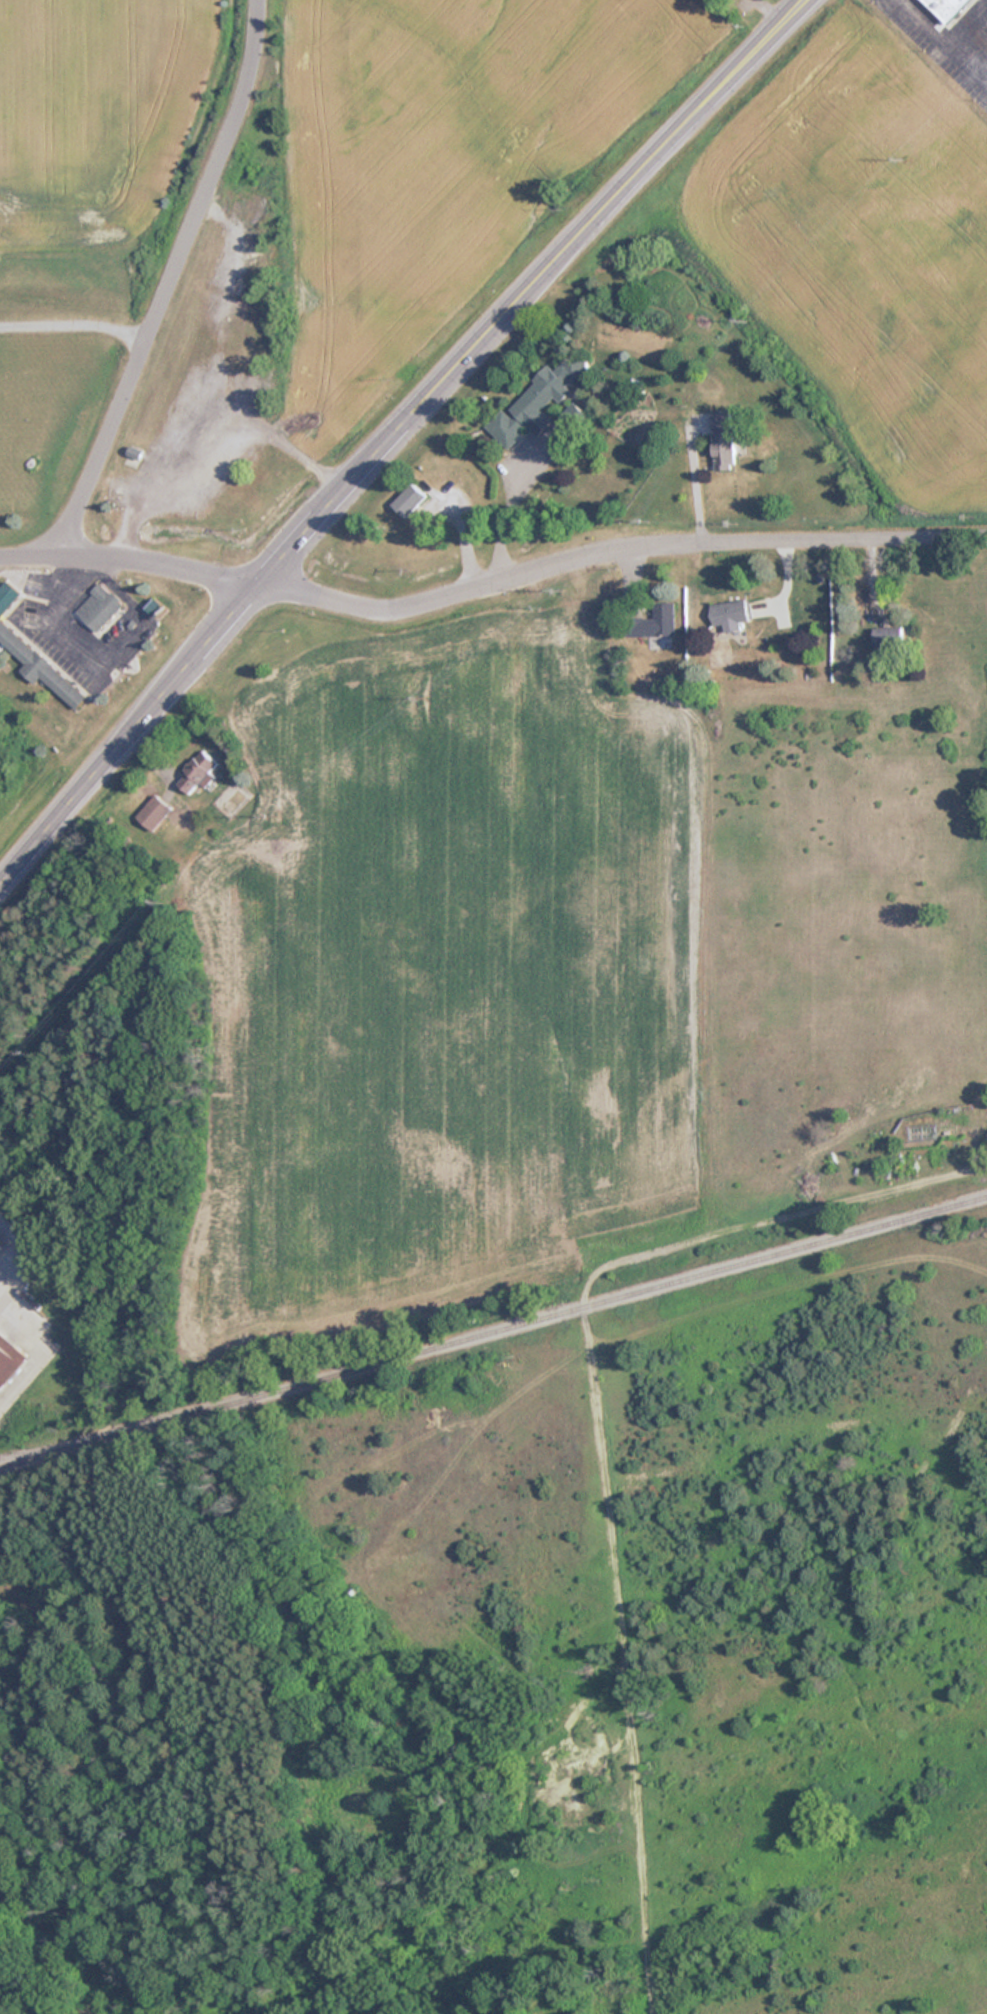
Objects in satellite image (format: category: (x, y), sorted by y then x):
building: (945, 9)
road: (170, 279)
building: (241, 344)
building: (536, 400)
road: (392, 435)
building: (722, 439)
building: (134, 451)
building: (409, 500)
road: (491, 581)
building: (99, 607)
building: (730, 614)
building: (654, 622)
building: (888, 638)
building: (36, 645)
building: (197, 773)
building: (154, 812)
building: (0, 1242)
railway: (494, 1328)
building: (9, 1359)
road: (595, 1439)
park: (139, 1715)

